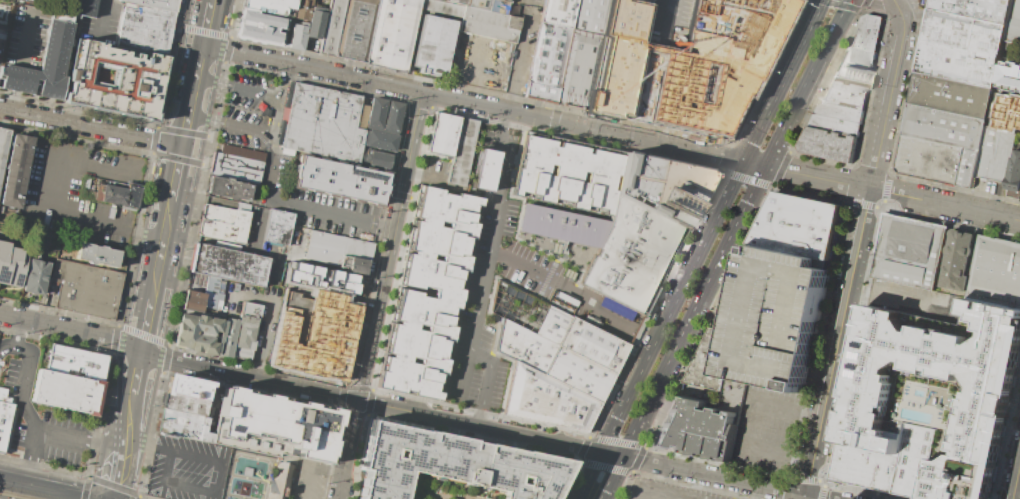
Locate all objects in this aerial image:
building: (30, 0)
building: (35, 0)
building: (438, 1)
road: (893, 1)
building: (456, 2)
parking lot: (527, 3)
building: (1, 4)
building: (155, 4)
building: (478, 4)
road: (863, 4)
road: (838, 5)
road: (879, 5)
building: (272, 6)
building: (499, 6)
building: (81, 7)
building: (302, 9)
road: (898, 9)
building: (975, 9)
building: (556, 13)
building: (589, 17)
building: (625, 19)
building: (1014, 21)
parking lot: (100, 23)
road: (208, 23)
building: (314, 24)
road: (101, 26)
building: (262, 26)
building: (489, 26)
parking lot: (3, 28)
building: (330, 28)
building: (144, 30)
building: (354, 30)
road: (218, 34)
building: (392, 34)
building: (964, 34)
building: (298, 37)
parking lot: (23, 39)
road: (918, 41)
building: (433, 45)
building: (860, 49)
road: (20, 57)
parking lot: (496, 58)
building: (544, 64)
building: (957, 65)
building: (40, 68)
building: (692, 68)
building: (576, 70)
road: (767, 72)
building: (1009, 76)
road: (873, 77)
building: (113, 80)
road: (823, 80)
road: (286, 81)
road: (907, 85)
building: (845, 91)
road: (260, 92)
road: (194, 95)
building: (951, 96)
road: (474, 104)
building: (839, 111)
building: (1008, 114)
building: (323, 124)
building: (835, 124)
road: (91, 125)
building: (384, 125)
building: (944, 127)
building: (441, 137)
road: (502, 138)
road: (153, 140)
building: (828, 143)
building: (3, 144)
traffic signals: (184, 145)
building: (460, 152)
building: (995, 153)
road: (726, 156)
road: (822, 157)
building: (376, 158)
building: (929, 159)
parking lot: (283, 162)
road: (755, 164)
road: (853, 165)
building: (968, 167)
building: (235, 168)
road: (780, 168)
building: (483, 169)
parking lot: (483, 169)
building: (1014, 169)
building: (564, 173)
building: (13, 174)
road: (745, 178)
building: (337, 180)
road: (501, 185)
road: (886, 185)
road: (176, 186)
road: (954, 186)
building: (660, 187)
building: (228, 188)
road: (273, 189)
parking lot: (76, 191)
road: (809, 191)
road: (892, 193)
building: (116, 196)
road: (39, 202)
road: (860, 202)
road: (883, 203)
road: (947, 221)
building: (223, 224)
building: (561, 224)
building: (643, 225)
building: (278, 228)
road: (702, 248)
road: (722, 250)
road: (162, 251)
building: (910, 252)
building: (339, 253)
parking lot: (508, 254)
building: (96, 256)
road: (855, 256)
road: (561, 258)
building: (629, 258)
building: (957, 262)
building: (12, 266)
building: (231, 266)
road: (521, 266)
building: (996, 273)
building: (35, 276)
building: (319, 277)
building: (616, 285)
building: (90, 290)
building: (429, 292)
building: (212, 294)
road: (379, 295)
building: (565, 298)
road: (896, 300)
building: (194, 302)
road: (584, 302)
road: (654, 302)
building: (770, 303)
building: (954, 305)
road: (149, 313)
road: (266, 313)
road: (708, 316)
road: (475, 320)
building: (591, 320)
road: (636, 330)
building: (246, 331)
building: (315, 333)
building: (206, 335)
road: (148, 336)
parking lot: (802, 337)
road: (817, 338)
building: (533, 339)
parking lot: (264, 341)
road: (853, 343)
building: (593, 344)
road: (7, 345)
building: (79, 364)
building: (578, 373)
road: (464, 377)
road: (135, 384)
road: (299, 387)
building: (188, 388)
building: (937, 391)
building: (68, 393)
building: (544, 399)
building: (188, 405)
road: (782, 410)
road: (26, 411)
building: (4, 415)
building: (185, 425)
building: (278, 426)
parking lot: (766, 426)
building: (698, 427)
parking lot: (57, 439)
road: (1007, 440)
road: (616, 441)
road: (582, 448)
road: (773, 448)
road: (28, 455)
road: (120, 457)
road: (637, 458)
road: (718, 462)
building: (917, 462)
building: (451, 464)
road: (604, 466)
road: (311, 467)
building: (866, 468)
road: (703, 472)
road: (1015, 476)
road: (806, 477)
road: (565, 478)
road: (788, 478)
building: (284, 481)
parking lot: (311, 481)
road: (823, 482)
road: (624, 485)
road: (693, 485)
road: (114, 486)
road: (85, 487)
road: (45, 488)
road: (863, 488)
road: (786, 489)
parking lot: (668, 491)
road: (821, 491)
road: (649, 494)
road: (804, 496)
road: (814, 496)
road: (139, 497)

